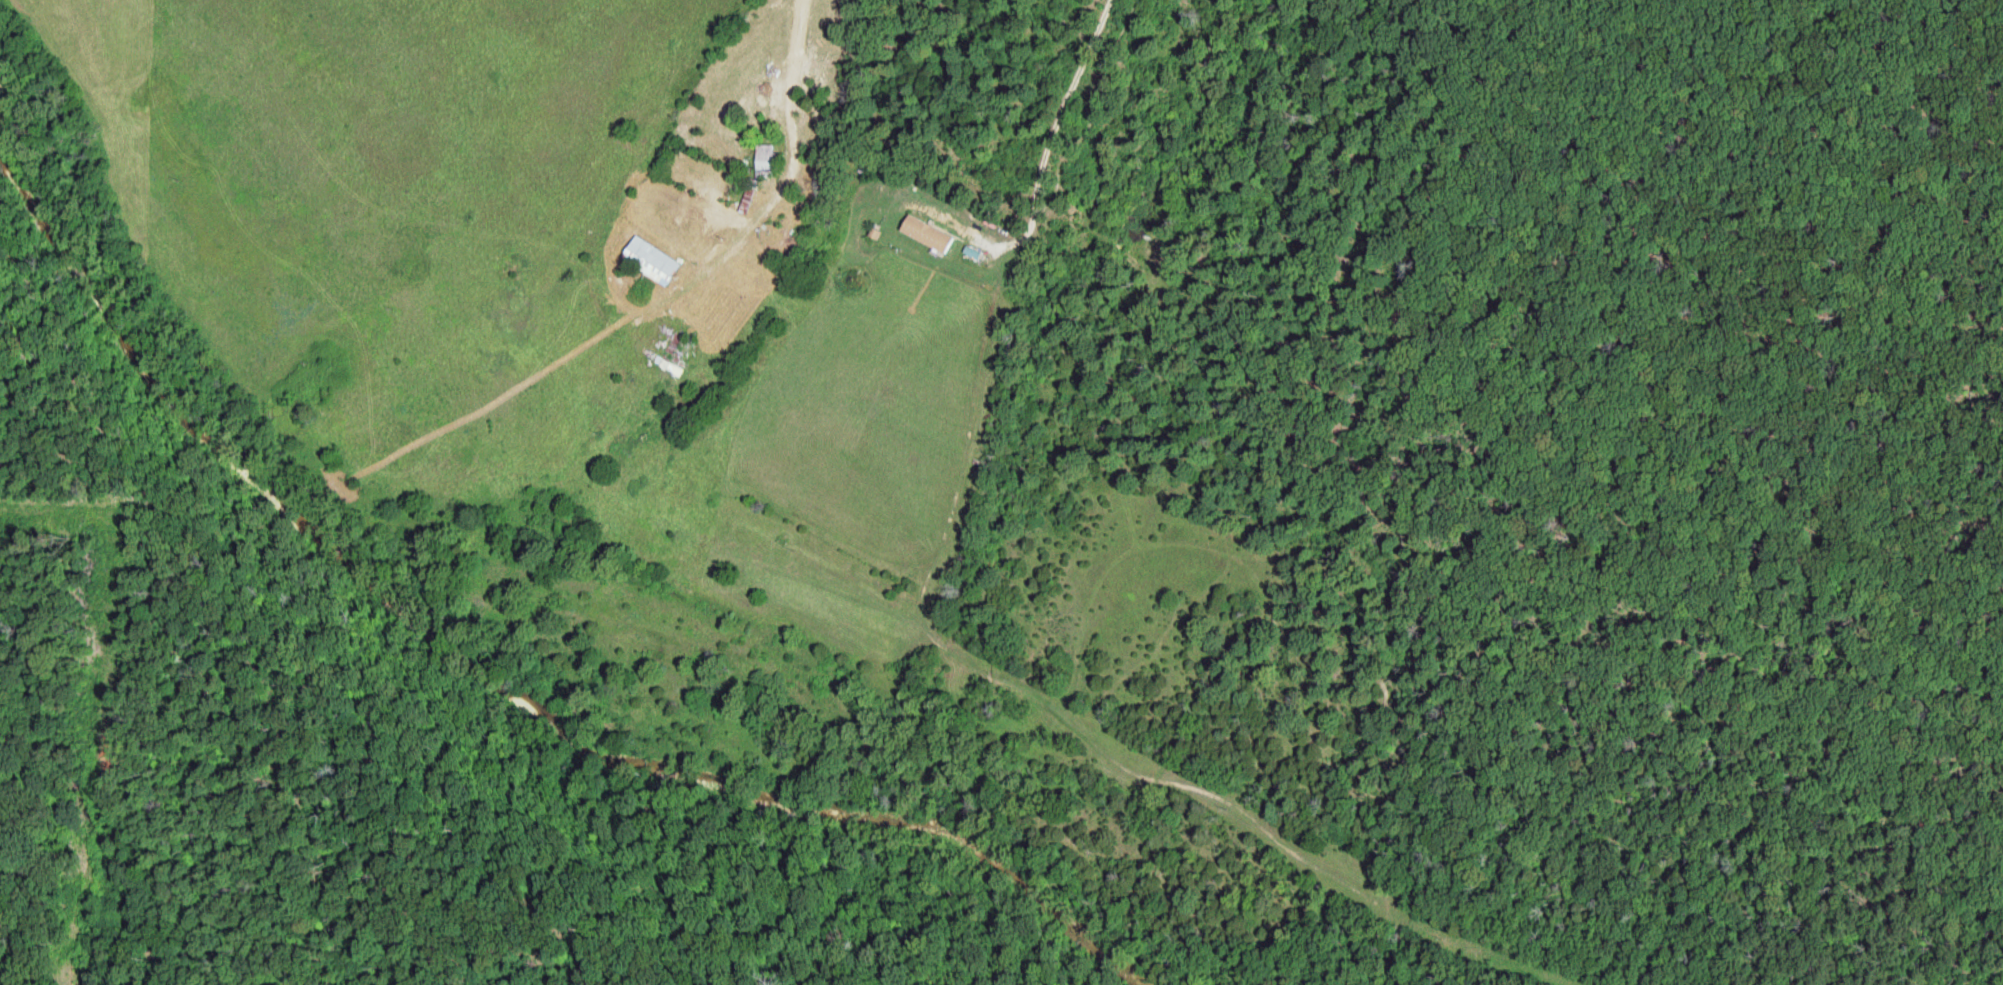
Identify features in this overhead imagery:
building: (771, 181)
building: (933, 231)
building: (657, 258)

